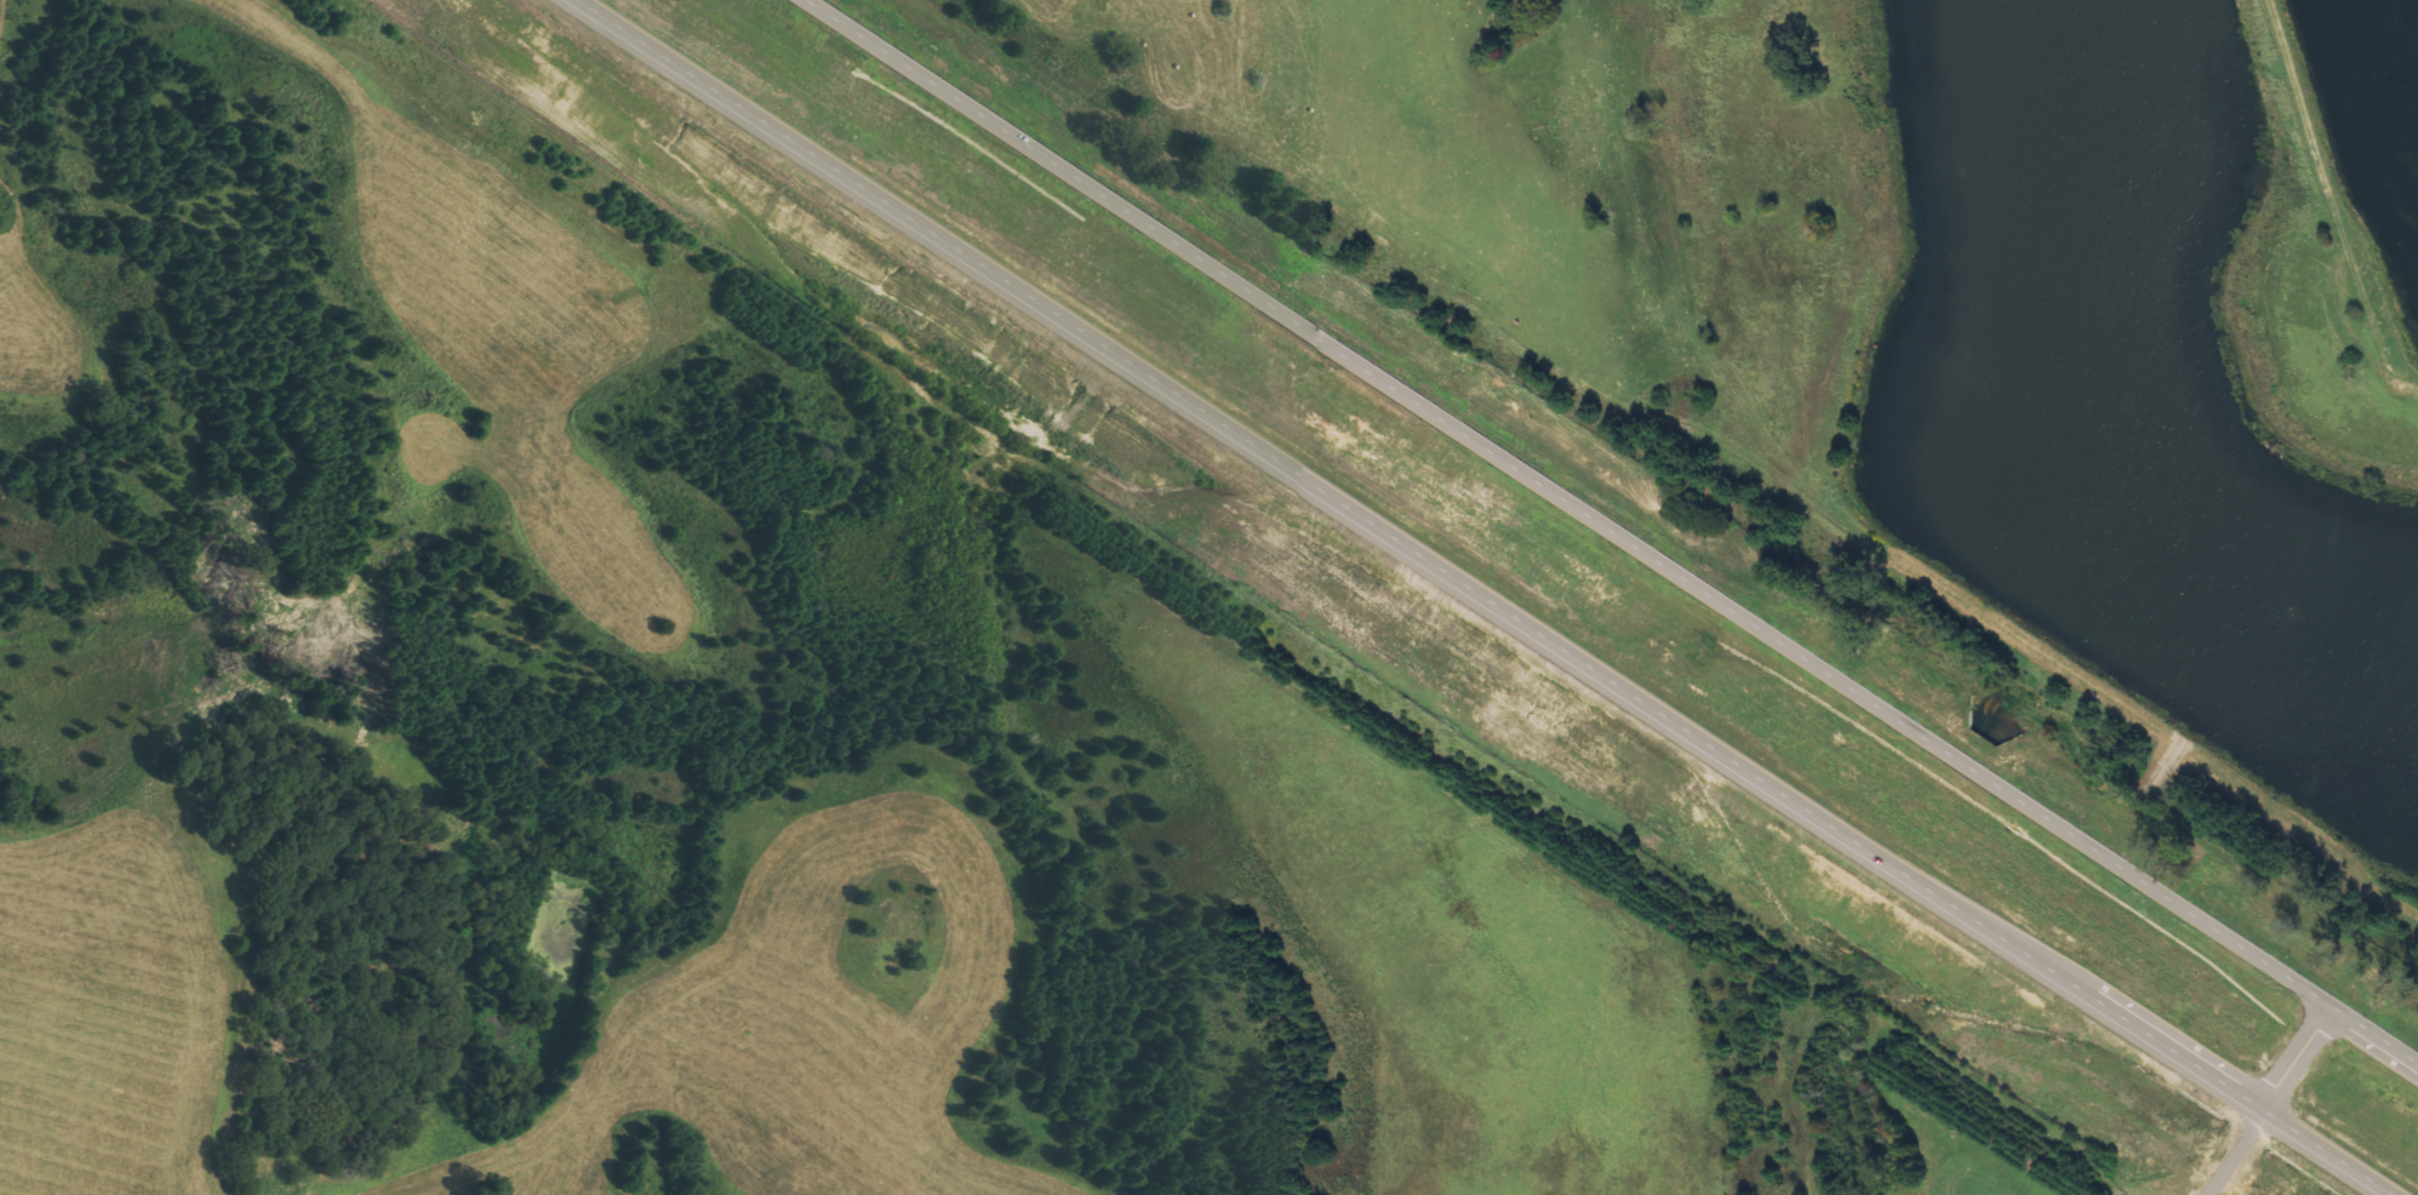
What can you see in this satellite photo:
road: (1613, 531)
road: (1480, 596)
road: (2268, 1100)

